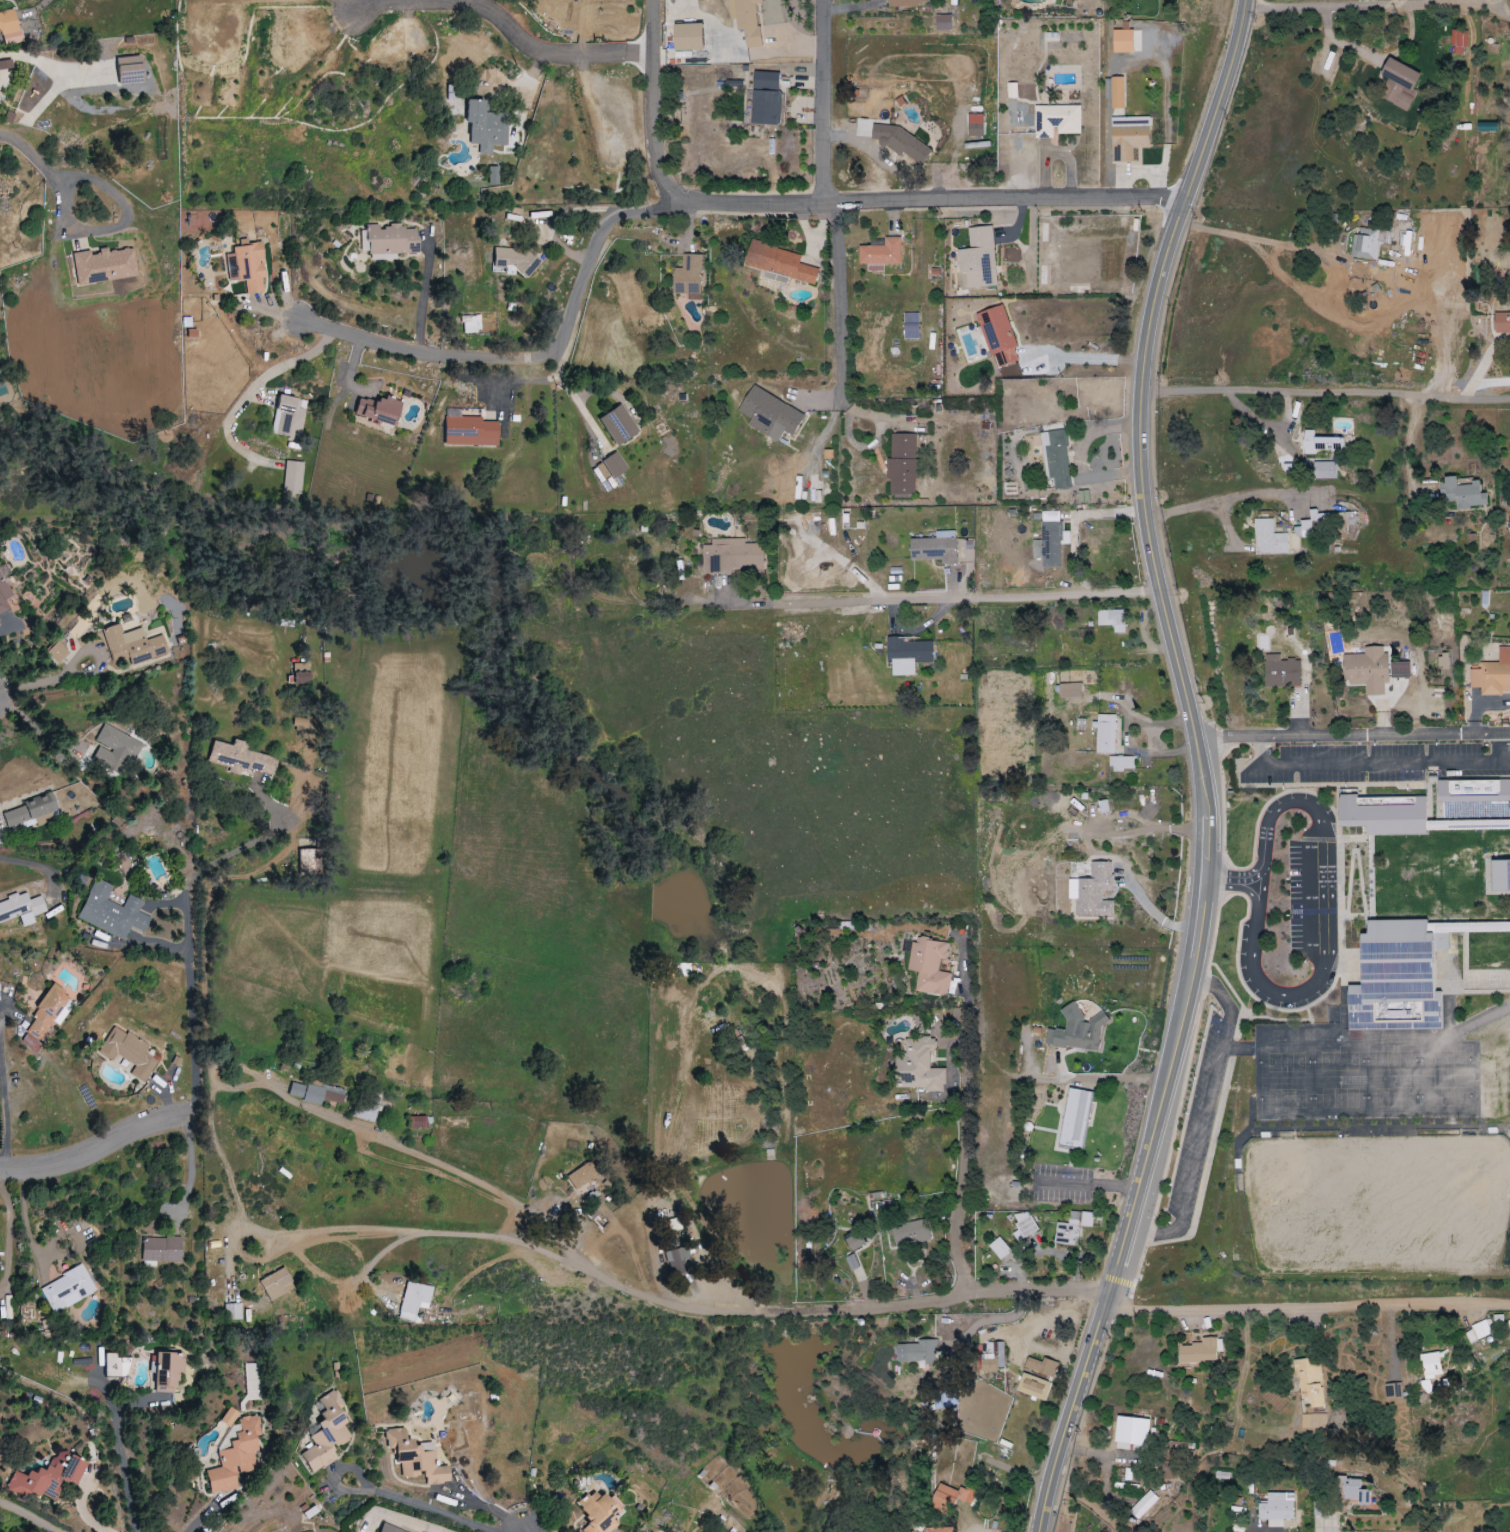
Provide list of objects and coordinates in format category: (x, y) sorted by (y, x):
building: (902, 3)
road: (1369, 7)
road: (1498, 12)
building: (745, 20)
building: (943, 22)
road: (503, 24)
building: (9, 26)
building: (688, 37)
building: (1459, 38)
building: (1122, 41)
road: (1371, 57)
building: (128, 69)
building: (765, 80)
building: (1399, 83)
building: (1011, 90)
building: (1116, 93)
road: (822, 102)
building: (765, 107)
building: (1056, 120)
building: (486, 124)
building: (975, 125)
building: (863, 128)
building: (1128, 137)
road: (1286, 141)
building: (901, 143)
road: (31, 155)
building: (494, 174)
road: (827, 204)
road: (123, 223)
building: (390, 239)
building: (1368, 243)
building: (880, 254)
building: (383, 256)
building: (978, 258)
building: (513, 260)
building: (779, 262)
building: (104, 265)
building: (247, 266)
road: (1348, 266)
building: (688, 277)
road: (1155, 290)
road: (422, 294)
road: (836, 298)
road: (1319, 308)
building: (1502, 323)
building: (471, 324)
building: (910, 326)
building: (998, 336)
road: (1487, 356)
road: (534, 359)
road: (1083, 360)
road: (290, 364)
building: (1, 381)
road: (1490, 382)
road: (1465, 391)
road: (1325, 394)
building: (376, 409)
building: (769, 414)
building: (289, 417)
building: (619, 424)
building: (469, 429)
building: (1319, 443)
road: (1409, 446)
road: (1080, 457)
building: (1056, 458)
building: (615, 464)
building: (901, 465)
building: (1324, 470)
building: (602, 473)
building: (293, 477)
building: (1461, 494)
road: (1226, 496)
road: (1074, 524)
building: (1508, 525)
building: (1269, 538)
building: (1048, 541)
building: (934, 548)
building: (731, 556)
building: (4, 595)
road: (942, 602)
building: (1112, 619)
road: (5, 625)
building: (136, 643)
building: (56, 652)
road: (99, 655)
building: (906, 655)
building: (1442, 662)
road: (1175, 665)
building: (1372, 670)
building: (1281, 672)
building: (1493, 675)
road: (35, 682)
building: (1070, 690)
road: (27, 724)
road: (1351, 734)
road: (1506, 748)
building: (115, 750)
building: (240, 756)
building: (1122, 764)
parking lot: (1377, 764)
road: (1367, 766)
building: (1474, 799)
building: (1103, 807)
road: (1205, 808)
building: (31, 811)
building: (1383, 817)
building: (1480, 825)
road: (1320, 828)
road: (42, 867)
building: (1500, 876)
road: (1230, 881)
building: (1092, 892)
building: (22, 908)
building: (112, 912)
road: (188, 923)
road: (1199, 931)
building: (929, 967)
road: (1251, 976)
building: (1397, 978)
building: (48, 1014)
building: (1077, 1031)
building: (30, 1044)
building: (128, 1052)
building: (918, 1066)
road: (1107, 1080)
road: (5, 1090)
building: (313, 1094)
building: (368, 1107)
road: (1156, 1110)
parking lot: (1198, 1119)
building: (1075, 1120)
building: (418, 1122)
road: (1203, 1123)
road: (960, 1142)
road: (99, 1155)
road: (192, 1165)
building: (582, 1175)
road: (1086, 1183)
building: (1086, 1219)
road: (28, 1222)
building: (1024, 1226)
building: (1067, 1231)
building: (910, 1233)
road: (408, 1234)
road: (11, 1238)
building: (856, 1242)
building: (161, 1249)
building: (999, 1249)
building: (678, 1261)
road: (1115, 1265)
building: (276, 1284)
building: (68, 1289)
building: (415, 1300)
building: (233, 1307)
road: (671, 1307)
road: (1305, 1307)
building: (424, 1317)
road: (989, 1317)
building: (1477, 1332)
building: (1198, 1351)
building: (918, 1352)
building: (993, 1357)
building: (1430, 1364)
building: (116, 1365)
building: (1041, 1366)
building: (167, 1368)
building: (252, 1381)
building: (1310, 1381)
building: (1033, 1386)
building: (1426, 1386)
building: (943, 1400)
road: (1069, 1410)
building: (229, 1416)
building: (1313, 1421)
building: (1131, 1430)
building: (326, 1433)
building: (235, 1457)
building: (415, 1457)
road: (119, 1461)
road: (335, 1475)
building: (48, 1476)
building: (1354, 1490)
building: (951, 1496)
building: (1143, 1505)
building: (1276, 1509)
road: (83, 1511)
road: (430, 1511)
building: (599, 1511)
road: (30, 1515)
road: (202, 1517)
building: (389, 1528)
building: (937, 1529)

